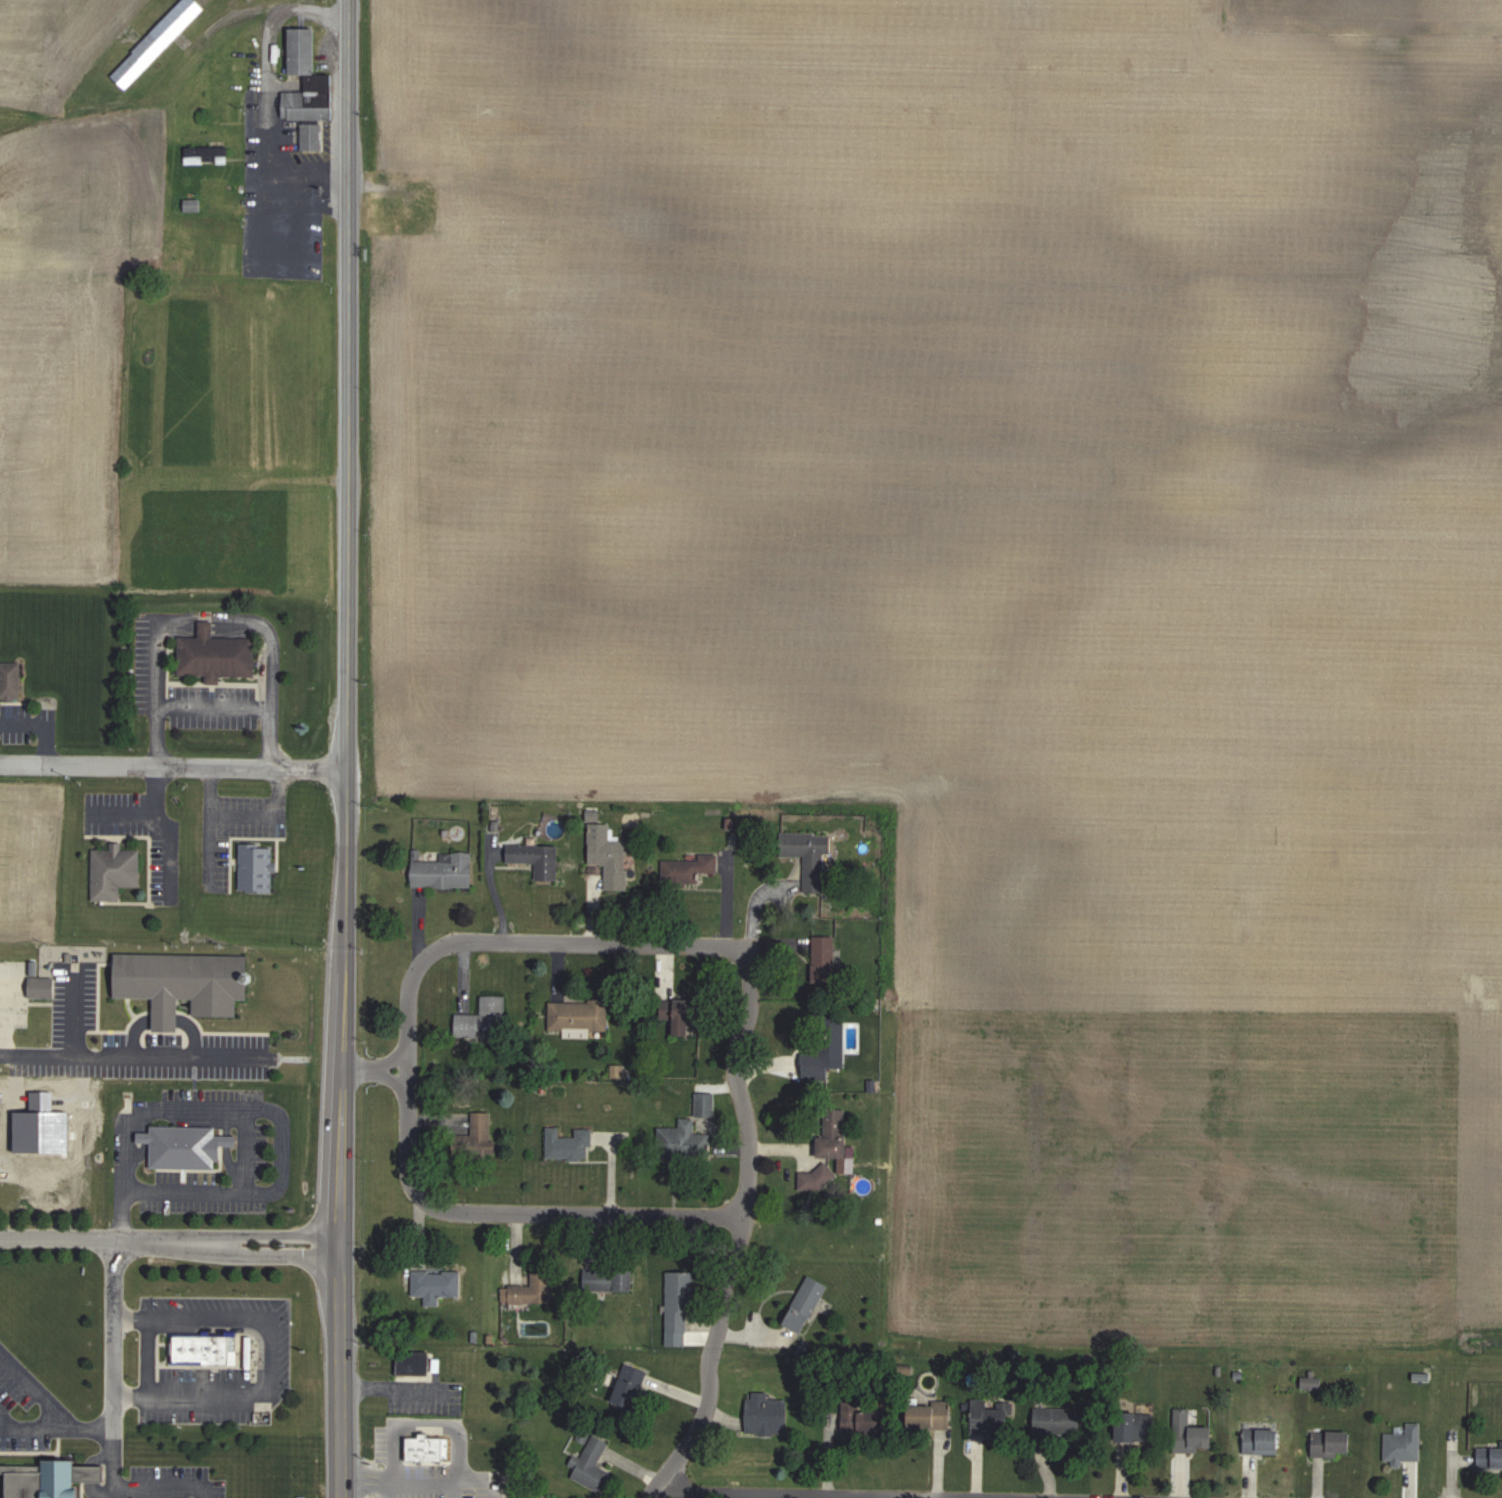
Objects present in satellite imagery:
building: (160, 39)
road: (266, 64)
building: (308, 80)
building: (312, 137)
building: (207, 155)
road: (310, 179)
building: (193, 205)
road: (202, 624)
building: (217, 655)
road: (269, 670)
road: (153, 677)
building: (11, 681)
road: (211, 702)
road: (45, 723)
road: (346, 749)
road: (186, 770)
road: (122, 810)
road: (242, 815)
road: (160, 830)
building: (608, 855)
building: (810, 857)
building: (537, 860)
building: (257, 868)
building: (689, 870)
building: (445, 872)
building: (115, 873)
road: (751, 904)
road: (514, 945)
building: (825, 959)
building: (184, 984)
building: (42, 988)
road: (71, 1013)
road: (161, 1016)
building: (578, 1017)
building: (679, 1017)
building: (483, 1022)
road: (130, 1029)
road: (190, 1030)
building: (832, 1038)
road: (130, 1053)
road: (368, 1072)
building: (705, 1104)
road: (257, 1106)
building: (482, 1134)
building: (834, 1135)
building: (688, 1140)
building: (569, 1146)
building: (186, 1147)
road: (247, 1150)
road: (514, 1216)
road: (736, 1233)
road: (169, 1241)
building: (609, 1280)
building: (436, 1285)
building: (530, 1291)
building: (680, 1301)
building: (807, 1304)
road: (112, 1335)
building: (206, 1351)
road: (149, 1355)
road: (271, 1355)
building: (414, 1364)
building: (634, 1387)
road: (37, 1388)
building: (767, 1415)
building: (931, 1416)
building: (1028, 1420)
building: (868, 1422)
road: (2, 1423)
road: (56, 1428)
building: (1137, 1429)
building: (1192, 1434)
building: (1262, 1441)
building: (1333, 1444)
building: (1405, 1445)
building: (1489, 1459)
road: (113, 1464)
building: (592, 1466)
building: (50, 1478)
road: (163, 1486)
building: (426, 1495)
road: (700, 1495)
building: (550, 1497)

